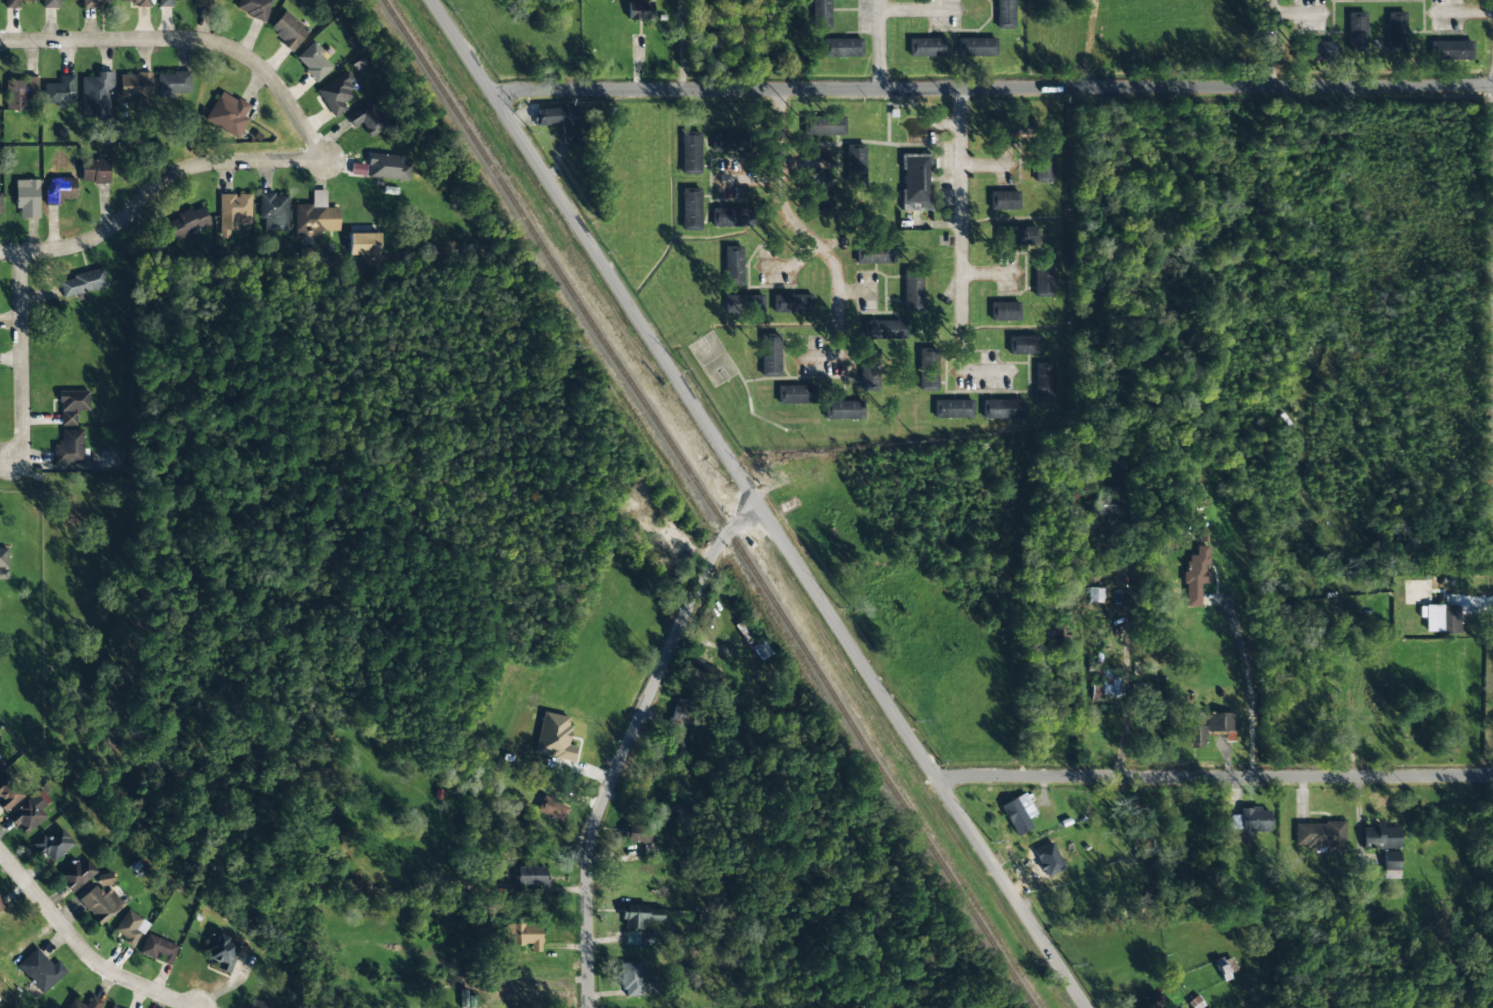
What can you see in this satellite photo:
building: (204, 2)
building: (13, 3)
building: (50, 3)
building: (93, 3)
building: (138, 3)
building: (165, 3)
building: (253, 8)
building: (639, 10)
building: (821, 14)
building: (1005, 14)
building: (288, 30)
building: (1356, 31)
building: (1395, 31)
road: (190, 40)
building: (713, 40)
road: (680, 44)
road: (885, 44)
road: (461, 45)
building: (927, 47)
building: (976, 47)
building: (842, 48)
building: (1315, 50)
building: (1451, 50)
building: (314, 61)
building: (173, 84)
building: (135, 85)
road: (991, 87)
building: (60, 91)
building: (19, 92)
building: (336, 93)
building: (96, 96)
building: (228, 114)
building: (367, 118)
building: (559, 121)
building: (1010, 125)
building: (823, 126)
building: (726, 142)
building: (690, 153)
building: (1043, 164)
building: (386, 167)
building: (94, 170)
building: (915, 182)
road: (157, 189)
building: (60, 190)
building: (27, 198)
building: (1003, 200)
building: (816, 201)
building: (0, 204)
building: (690, 209)
building: (274, 211)
building: (233, 212)
building: (315, 217)
building: (731, 217)
road: (962, 217)
building: (188, 223)
road: (796, 224)
building: (1017, 236)
building: (364, 243)
building: (874, 254)
building: (732, 265)
building: (1043, 276)
building: (84, 282)
building: (912, 289)
building: (749, 303)
building: (790, 303)
building: (1004, 311)
building: (881, 329)
building: (1022, 345)
building: (769, 354)
road: (23, 357)
building: (928, 369)
building: (868, 371)
building: (1044, 382)
building: (795, 395)
building: (72, 406)
building: (952, 409)
building: (1003, 409)
building: (843, 410)
building: (69, 448)
railway: (709, 503)
road: (788, 548)
building: (3, 562)
building: (1196, 575)
building: (1095, 595)
building: (1442, 618)
building: (708, 671)
building: (1107, 687)
building: (682, 714)
building: (1208, 727)
building: (554, 737)
road: (631, 741)
building: (680, 749)
building: (0, 769)
road: (1215, 775)
building: (8, 794)
building: (552, 809)
building: (29, 813)
building: (1018, 813)
building: (1250, 822)
building: (641, 833)
building: (1321, 836)
building: (1380, 837)
building: (53, 845)
building: (1390, 865)
building: (78, 874)
building: (530, 875)
building: (105, 879)
building: (1, 904)
building: (100, 904)
building: (640, 916)
building: (130, 928)
building: (524, 936)
road: (82, 947)
building: (158, 949)
building: (220, 951)
building: (41, 970)
building: (629, 976)
building: (466, 999)
building: (94, 1003)
building: (110, 1007)

